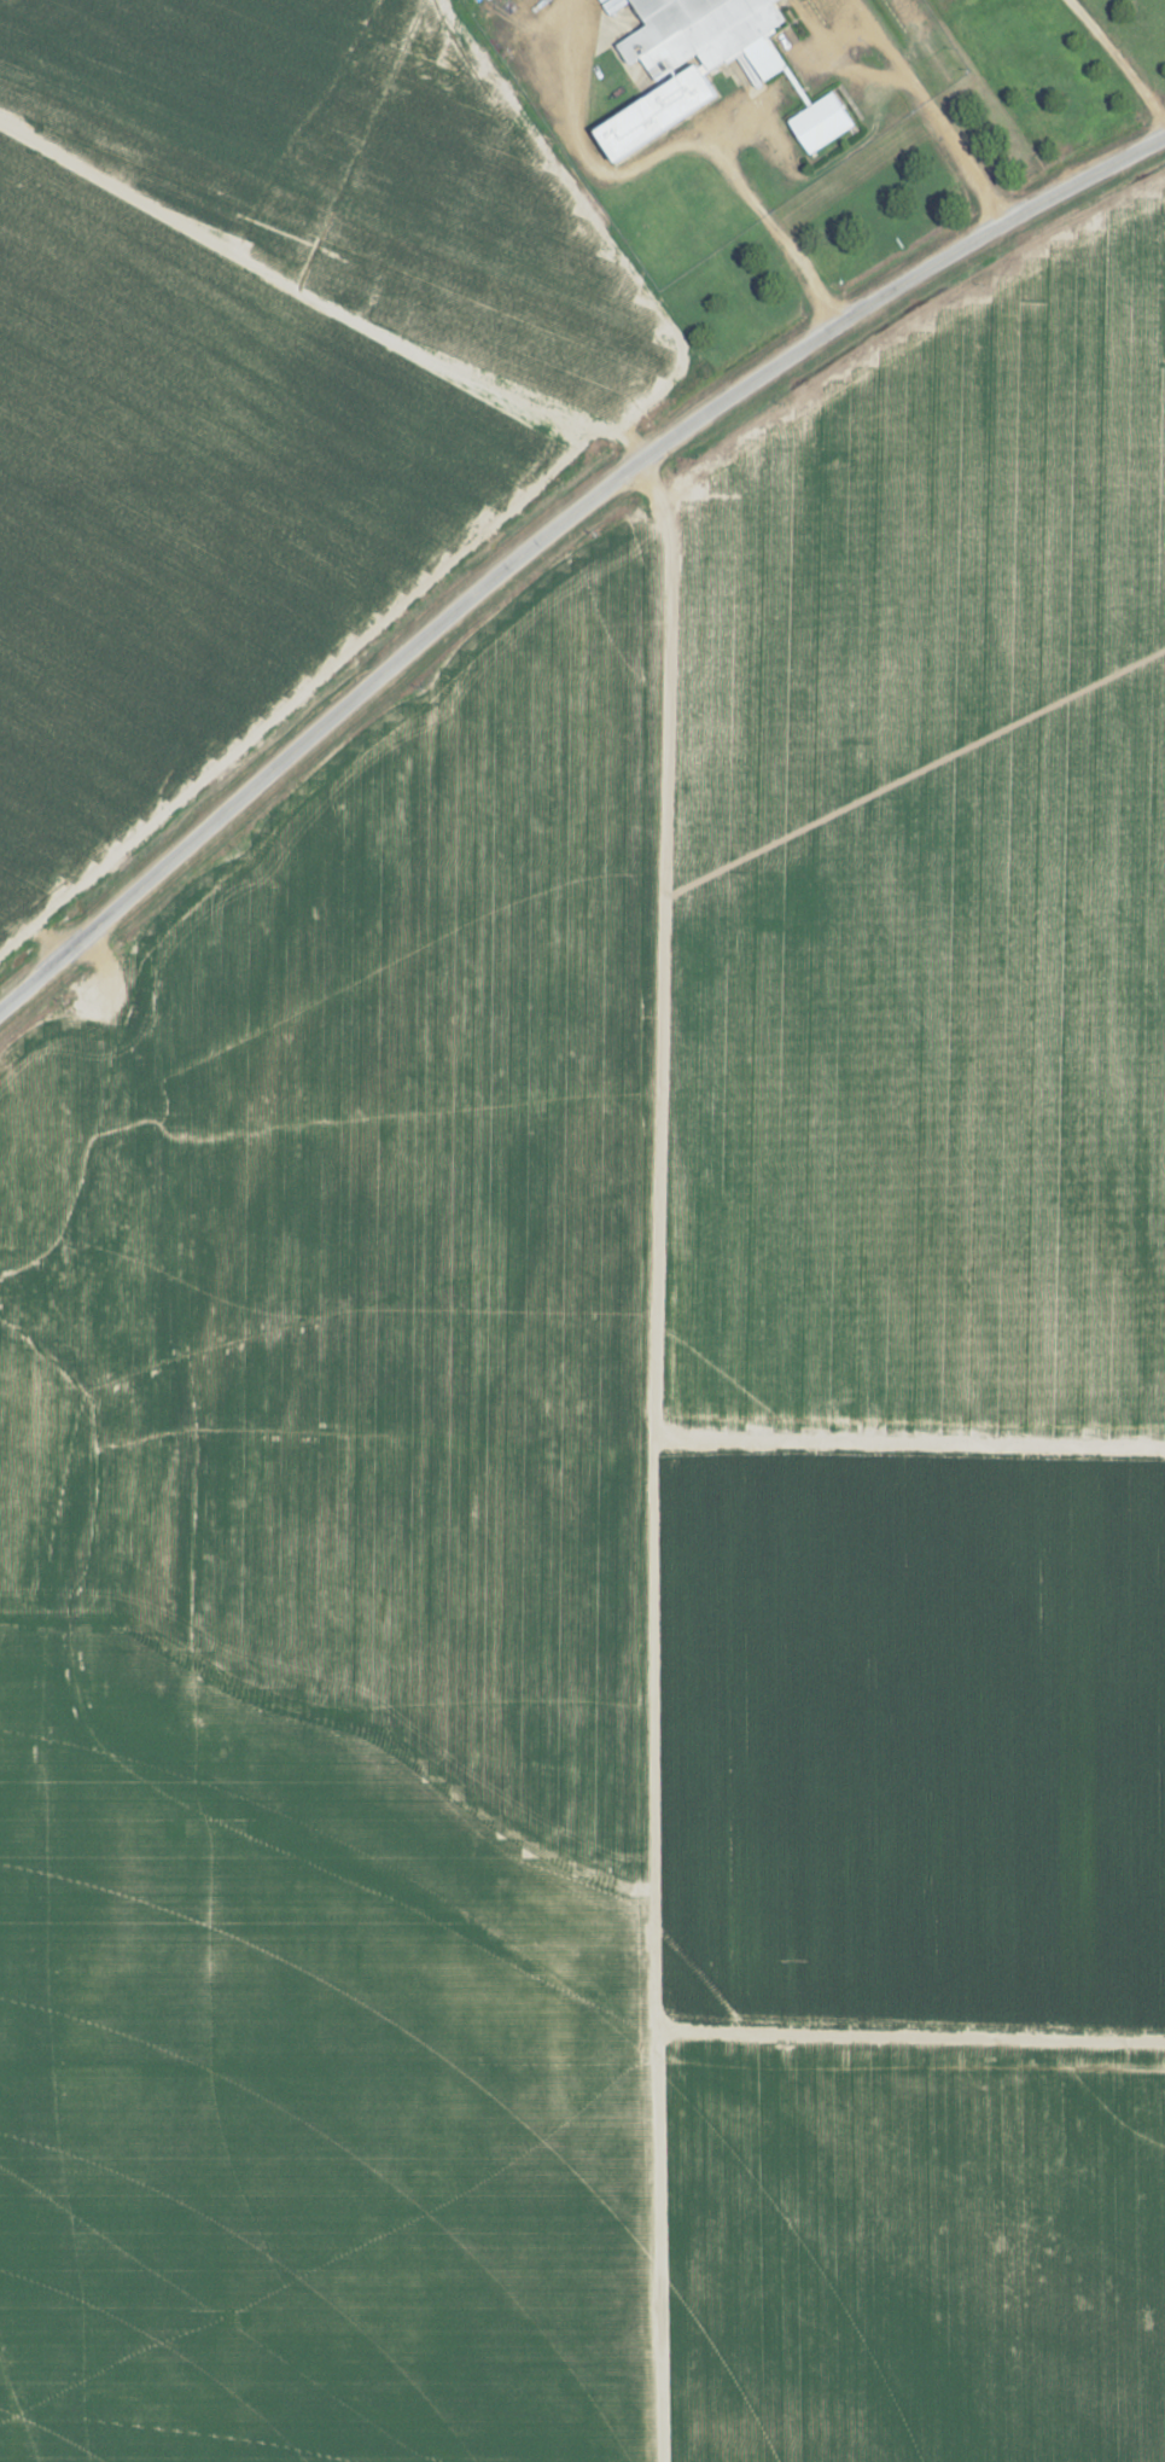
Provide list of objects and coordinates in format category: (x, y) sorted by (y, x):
building: (677, 60)
road: (1116, 63)
road: (787, 76)
building: (817, 122)
road: (551, 526)
building: (126, 688)
road: (653, 1457)
road: (246, 1804)

